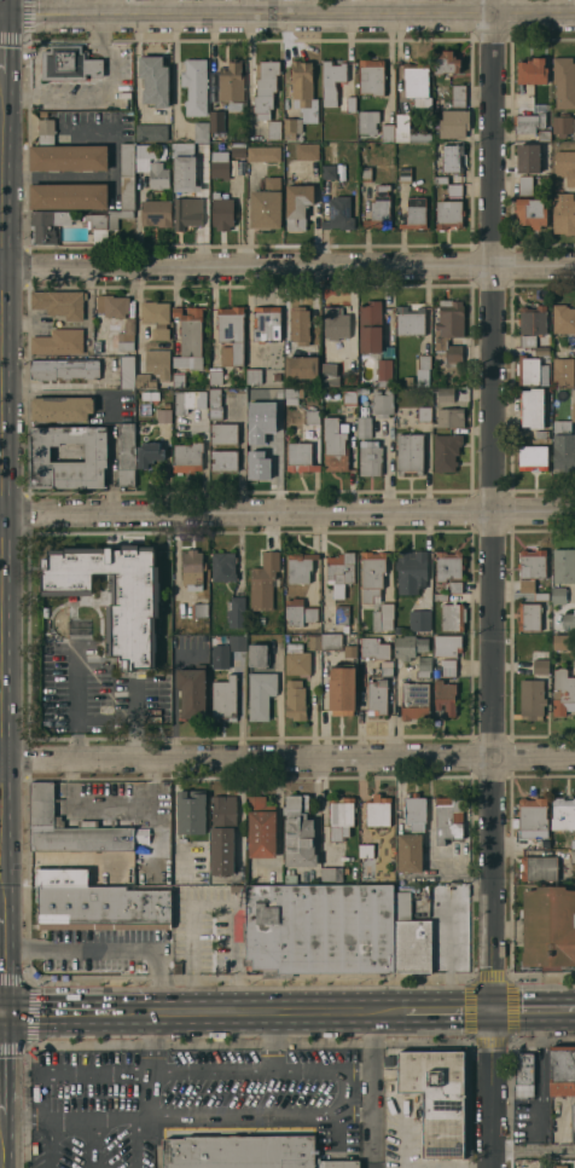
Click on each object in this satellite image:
road: (1, 7)
road: (0, 16)
traffic signals: (1, 16)
road: (287, 16)
road: (1, 27)
building: (69, 63)
building: (446, 63)
building: (532, 71)
building: (372, 76)
building: (153, 80)
building: (331, 80)
building: (231, 82)
building: (417, 82)
building: (564, 82)
building: (194, 86)
building: (265, 87)
building: (303, 91)
building: (458, 96)
building: (350, 104)
building: (216, 121)
building: (367, 121)
building: (528, 122)
building: (453, 123)
building: (563, 125)
building: (291, 127)
building: (273, 129)
building: (407, 129)
building: (46, 131)
building: (151, 132)
building: (201, 132)
building: (387, 132)
road: (114, 133)
building: (544, 134)
building: (238, 150)
building: (307, 151)
building: (263, 154)
building: (68, 157)
building: (452, 157)
building: (127, 158)
building: (528, 158)
building: (220, 164)
building: (153, 166)
building: (565, 166)
building: (184, 167)
building: (329, 172)
building: (364, 173)
building: (405, 174)
road: (53, 175)
building: (441, 179)
building: (527, 185)
building: (454, 190)
building: (127, 193)
building: (69, 196)
building: (266, 204)
building: (297, 206)
building: (379, 209)
building: (186, 212)
building: (222, 212)
building: (156, 213)
building: (338, 213)
building: (416, 213)
building: (532, 213)
building: (448, 214)
building: (564, 214)
building: (104, 222)
building: (47, 225)
road: (286, 265)
building: (59, 302)
building: (112, 305)
building: (156, 317)
building: (563, 319)
building: (410, 320)
building: (533, 320)
building: (266, 323)
building: (336, 323)
building: (300, 325)
building: (370, 326)
building: (449, 329)
building: (232, 331)
building: (126, 335)
building: (190, 337)
building: (527, 340)
building: (58, 341)
building: (541, 351)
building: (424, 360)
building: (157, 363)
building: (301, 366)
building: (64, 369)
building: (528, 370)
building: (126, 371)
building: (383, 371)
building: (563, 371)
building: (329, 375)
building: (216, 376)
building: (254, 376)
building: (277, 377)
building: (407, 380)
building: (144, 381)
building: (179, 381)
building: (292, 394)
building: (445, 394)
building: (265, 395)
building: (350, 398)
building: (188, 400)
building: (382, 403)
building: (216, 404)
building: (533, 407)
building: (62, 409)
building: (573, 411)
building: (424, 414)
building: (164, 415)
building: (312, 417)
building: (451, 417)
building: (277, 423)
building: (365, 427)
building: (225, 433)
building: (541, 434)
building: (335, 445)
building: (446, 452)
building: (564, 452)
building: (97, 453)
building: (149, 453)
building: (410, 453)
building: (126, 455)
building: (187, 457)
building: (261, 457)
building: (300, 457)
building: (533, 457)
building: (370, 458)
building: (225, 459)
road: (0, 474)
road: (287, 514)
building: (532, 563)
building: (222, 566)
building: (300, 566)
building: (448, 566)
building: (564, 566)
building: (192, 567)
building: (341, 568)
building: (411, 571)
building: (372, 576)
building: (263, 580)
road: (490, 584)
building: (527, 585)
building: (454, 586)
building: (114, 595)
building: (558, 595)
building: (440, 596)
building: (541, 596)
building: (199, 609)
building: (234, 612)
building: (300, 612)
building: (341, 614)
building: (452, 617)
building: (529, 617)
building: (383, 618)
building: (419, 620)
building: (568, 620)
building: (315, 641)
building: (331, 641)
building: (563, 641)
building: (446, 644)
building: (410, 647)
building: (373, 648)
building: (226, 649)
building: (349, 651)
building: (257, 654)
building: (297, 660)
building: (448, 661)
building: (423, 666)
building: (540, 666)
building: (387, 669)
building: (448, 671)
building: (214, 677)
building: (342, 689)
building: (192, 690)
building: (563, 693)
building: (260, 694)
building: (377, 696)
building: (445, 696)
building: (225, 699)
building: (532, 699)
building: (295, 700)
building: (414, 700)
road: (76, 704)
road: (126, 719)
road: (286, 761)
road: (132, 808)
building: (377, 810)
building: (414, 811)
building: (190, 813)
building: (533, 814)
building: (563, 814)
building: (341, 816)
building: (46, 817)
building: (448, 819)
building: (261, 828)
building: (298, 833)
building: (222, 834)
building: (527, 842)
building: (568, 844)
building: (365, 850)
building: (408, 852)
building: (573, 856)
building: (538, 868)
building: (331, 873)
building: (290, 877)
building: (236, 887)
building: (103, 907)
building: (548, 926)
building: (319, 929)
building: (411, 935)
road: (191, 939)
road: (108, 952)
road: (1, 964)
building: (176, 967)
road: (448, 1011)
traffic signals: (493, 1011)
road: (534, 1011)
road: (259, 1013)
road: (0, 1014)
road: (58, 1014)
traffic signals: (1, 1016)
road: (153, 1042)
road: (0, 1064)
road: (354, 1069)
road: (211, 1070)
building: (563, 1071)
road: (53, 1074)
building: (523, 1075)
road: (372, 1089)
road: (152, 1095)
building: (436, 1098)
road: (329, 1117)
road: (353, 1117)
road: (74, 1123)
road: (99, 1123)
building: (573, 1123)
road: (0, 1140)
road: (141, 1144)
road: (533, 1150)
building: (246, 1152)

